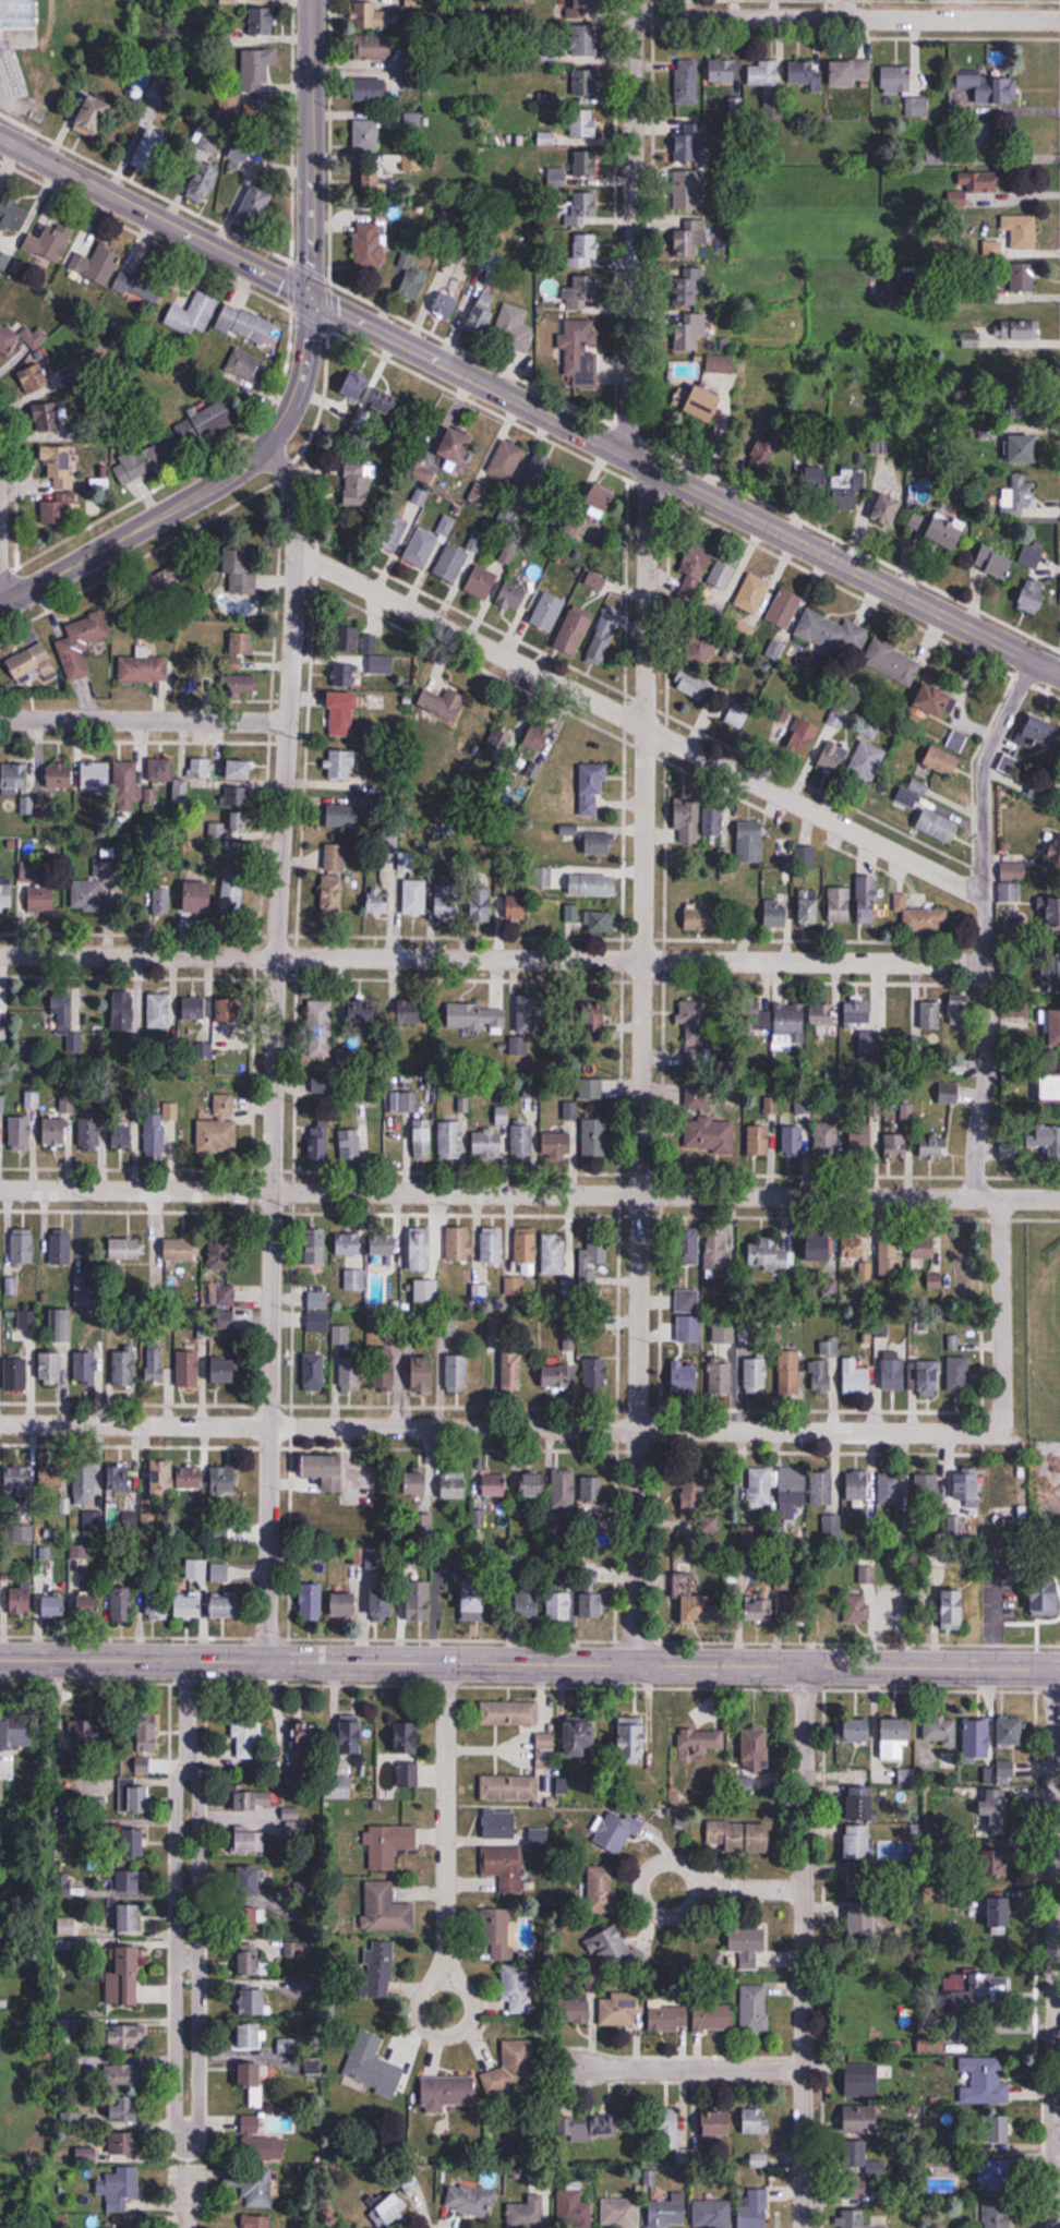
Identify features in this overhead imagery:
building: (258, 0)
road: (843, 9)
building: (17, 14)
building: (369, 16)
road: (846, 19)
building: (263, 22)
building: (585, 41)
building: (372, 51)
building: (722, 71)
building: (258, 73)
building: (762, 73)
building: (850, 73)
building: (805, 75)
building: (12, 76)
building: (896, 80)
building: (686, 82)
building: (585, 85)
building: (989, 88)
building: (371, 92)
building: (916, 107)
building: (94, 117)
building: (583, 123)
building: (365, 135)
building: (979, 139)
building: (150, 148)
building: (240, 150)
building: (587, 165)
building: (690, 171)
building: (378, 180)
building: (203, 183)
building: (968, 186)
building: (256, 204)
building: (585, 209)
building: (13, 216)
road: (631, 228)
road: (310, 229)
building: (1023, 233)
building: (691, 236)
building: (51, 241)
building: (369, 245)
building: (585, 250)
building: (95, 264)
building: (1023, 277)
building: (142, 281)
building: (413, 282)
building: (690, 285)
building: (585, 292)
road: (313, 298)
building: (445, 305)
building: (482, 313)
building: (192, 314)
building: (244, 326)
building: (514, 329)
building: (1015, 330)
building: (689, 333)
building: (36, 337)
building: (8, 340)
building: (578, 351)
building: (720, 365)
building: (82, 369)
building: (246, 370)
building: (33, 376)
building: (679, 384)
building: (358, 388)
building: (385, 405)
building: (704, 405)
building: (1019, 405)
building: (53, 423)
building: (206, 423)
building: (458, 449)
building: (1022, 450)
road: (639, 460)
building: (143, 462)
building: (506, 462)
building: (56, 468)
building: (535, 474)
building: (359, 486)
building: (1020, 497)
building: (600, 498)
building: (843, 499)
building: (887, 511)
building: (55, 513)
building: (918, 520)
building: (447, 523)
building: (582, 526)
road: (134, 530)
building: (947, 532)
building: (394, 534)
building: (421, 549)
building: (1032, 557)
building: (456, 562)
building: (995, 564)
road: (854, 570)
building: (242, 573)
building: (694, 575)
building: (722, 576)
building: (482, 583)
building: (164, 585)
building: (752, 594)
building: (1034, 595)
building: (513, 598)
building: (784, 609)
building: (547, 612)
building: (574, 630)
building: (744, 633)
building: (831, 633)
building: (349, 639)
building: (82, 643)
building: (242, 643)
building: (699, 650)
building: (599, 653)
building: (892, 662)
building: (32, 664)
building: (144, 665)
building: (344, 675)
building: (240, 684)
building: (694, 684)
building: (935, 699)
building: (447, 702)
building: (342, 713)
building: (708, 714)
building: (737, 714)
building: (779, 714)
road: (143, 720)
road: (639, 724)
building: (1041, 728)
building: (803, 736)
building: (538, 738)
building: (499, 739)
building: (832, 755)
building: (942, 760)
building: (867, 761)
building: (341, 764)
building: (200, 767)
building: (239, 769)
building: (95, 774)
building: (60, 775)
building: (16, 776)
building: (168, 778)
building: (125, 786)
building: (592, 786)
building: (236, 795)
building: (44, 805)
building: (344, 814)
building: (713, 819)
building: (688, 820)
building: (226, 822)
building: (938, 826)
building: (750, 841)
building: (599, 843)
building: (1055, 852)
building: (805, 856)
building: (405, 862)
building: (334, 878)
building: (592, 884)
building: (99, 887)
building: (1009, 891)
building: (232, 892)
building: (7, 895)
building: (198, 896)
building: (414, 898)
building: (161, 899)
building: (447, 899)
building: (867, 899)
building: (41, 900)
building: (378, 901)
building: (481, 902)
building: (840, 904)
building: (511, 906)
building: (809, 906)
building: (1047, 911)
building: (778, 912)
building: (922, 914)
building: (703, 918)
building: (601, 920)
road: (984, 924)
road: (492, 958)
building: (1051, 975)
building: (0, 1008)
building: (194, 1008)
building: (229, 1008)
building: (1015, 1008)
building: (959, 1009)
building: (123, 1010)
building: (159, 1010)
building: (364, 1011)
building: (321, 1012)
building: (411, 1012)
building: (858, 1012)
building: (528, 1014)
building: (821, 1014)
building: (595, 1015)
building: (755, 1015)
building: (926, 1015)
building: (475, 1016)
building: (68, 1017)
building: (790, 1022)
building: (1051, 1024)
building: (695, 1025)
building: (320, 1045)
building: (869, 1046)
road: (274, 1048)
road: (641, 1064)
building: (1051, 1084)
building: (590, 1087)
building: (949, 1093)
building: (32, 1097)
building: (403, 1099)
building: (907, 1110)
building: (219, 1127)
building: (89, 1130)
building: (21, 1132)
building: (55, 1132)
building: (155, 1134)
building: (710, 1134)
building: (1031, 1134)
building: (123, 1135)
building: (597, 1135)
building: (862, 1136)
building: (827, 1137)
building: (450, 1139)
building: (522, 1139)
building: (758, 1139)
building: (423, 1140)
building: (793, 1140)
building: (1057, 1140)
building: (487, 1142)
building: (318, 1144)
building: (557, 1144)
building: (895, 1144)
building: (350, 1145)
building: (932, 1145)
road: (530, 1194)
building: (348, 1242)
building: (383, 1243)
building: (458, 1243)
building: (492, 1244)
building: (22, 1247)
building: (56, 1247)
building: (182, 1247)
building: (688, 1247)
building: (852, 1247)
building: (926, 1247)
building: (128, 1248)
building: (421, 1248)
building: (819, 1248)
building: (316, 1249)
building: (525, 1251)
building: (221, 1252)
building: (718, 1252)
building: (770, 1252)
building: (954, 1252)
building: (553, 1253)
building: (890, 1255)
building: (593, 1257)
building: (356, 1280)
building: (514, 1286)
building: (221, 1294)
building: (318, 1300)
building: (687, 1300)
road: (1001, 1313)
building: (0, 1318)
building: (225, 1320)
building: (29, 1321)
building: (60, 1325)
building: (689, 1328)
building: (829, 1348)
building: (156, 1362)
building: (51, 1368)
building: (86, 1369)
building: (123, 1369)
building: (189, 1369)
building: (384, 1369)
building: (457, 1370)
building: (511, 1370)
building: (224, 1371)
building: (788, 1371)
building: (316, 1372)
building: (19, 1373)
building: (351, 1373)
building: (423, 1374)
building: (756, 1374)
building: (893, 1374)
building: (959, 1374)
building: (595, 1375)
building: (556, 1376)
building: (721, 1376)
building: (821, 1376)
building: (685, 1377)
building: (856, 1377)
building: (926, 1378)
road: (498, 1429)
building: (326, 1470)
building: (52, 1477)
building: (20, 1478)
building: (191, 1478)
building: (161, 1479)
building: (224, 1479)
building: (119, 1480)
building: (418, 1483)
building: (91, 1484)
building: (453, 1484)
building: (494, 1485)
building: (533, 1485)
building: (857, 1485)
building: (927, 1486)
building: (967, 1486)
building: (760, 1488)
building: (821, 1488)
building: (564, 1489)
building: (593, 1489)
building: (694, 1492)
building: (891, 1492)
building: (792, 1494)
building: (710, 1522)
building: (219, 1535)
building: (781, 1580)
building: (695, 1597)
building: (473, 1598)
building: (21, 1599)
building: (1045, 1599)
building: (311, 1601)
building: (420, 1601)
building: (157, 1602)
building: (345, 1603)
building: (384, 1603)
building: (89, 1604)
building: (122, 1604)
building: (592, 1604)
building: (55, 1605)
building: (225, 1605)
building: (527, 1605)
building: (561, 1605)
building: (190, 1606)
building: (795, 1606)
building: (856, 1606)
building: (893, 1606)
building: (953, 1607)
building: (761, 1609)
building: (826, 1609)
road: (94, 1660)
road: (624, 1663)
building: (509, 1712)
building: (854, 1730)
building: (1012, 1731)
building: (147, 1732)
building: (940, 1732)
building: (17, 1733)
building: (352, 1734)
building: (308, 1735)
building: (246, 1736)
building: (407, 1736)
building: (895, 1737)
building: (576, 1738)
building: (977, 1738)
building: (633, 1739)
building: (701, 1743)
building: (755, 1748)
building: (413, 1773)
building: (525, 1778)
building: (338, 1787)
building: (133, 1796)
building: (246, 1801)
building: (862, 1803)
building: (291, 1812)
building: (998, 1815)
road: (444, 1821)
building: (503, 1824)
building: (615, 1830)
building: (740, 1836)
building: (250, 1841)
building: (858, 1841)
building: (135, 1842)
building: (388, 1844)
building: (1003, 1866)
building: (505, 1867)
building: (130, 1880)
building: (250, 1881)
building: (862, 1881)
building: (63, 1886)
building: (601, 1889)
road: (694, 1889)
road: (749, 1890)
road: (188, 1907)
building: (386, 1910)
building: (1000, 1913)
building: (129, 1918)
building: (251, 1919)
building: (864, 1922)
building: (75, 1927)
building: (496, 1930)
road: (804, 1947)
road: (1055, 1948)
building: (612, 1950)
building: (750, 1951)
building: (249, 1963)
building: (380, 1970)
building: (128, 1976)
building: (981, 1986)
building: (517, 1988)
building: (252, 2002)
road: (471, 2006)
building: (579, 2007)
building: (755, 2009)
building: (621, 2010)
building: (670, 2018)
building: (713, 2018)
building: (250, 2036)
building: (125, 2037)
building: (372, 2066)
building: (513, 2068)
road: (679, 2069)
building: (984, 2080)
building: (862, 2081)
building: (254, 2086)
building: (447, 2093)
building: (128, 2095)
building: (860, 2119)
building: (754, 2120)
building: (716, 2124)
building: (593, 2128)
building: (668, 2130)
building: (991, 2130)
building: (260, 2136)
road: (1058, 2141)
road: (186, 2157)
building: (864, 2158)
road: (186, 2165)
building: (1000, 2176)
building: (253, 2187)
building: (119, 2190)
road: (186, 2199)
building: (471, 2201)
building: (390, 2209)
building: (752, 2209)
building: (528, 2211)
building: (574, 2211)
building: (668, 2212)
building: (621, 2213)
building: (997, 2213)
building: (712, 2215)
building: (854, 2219)
building: (258, 2221)

